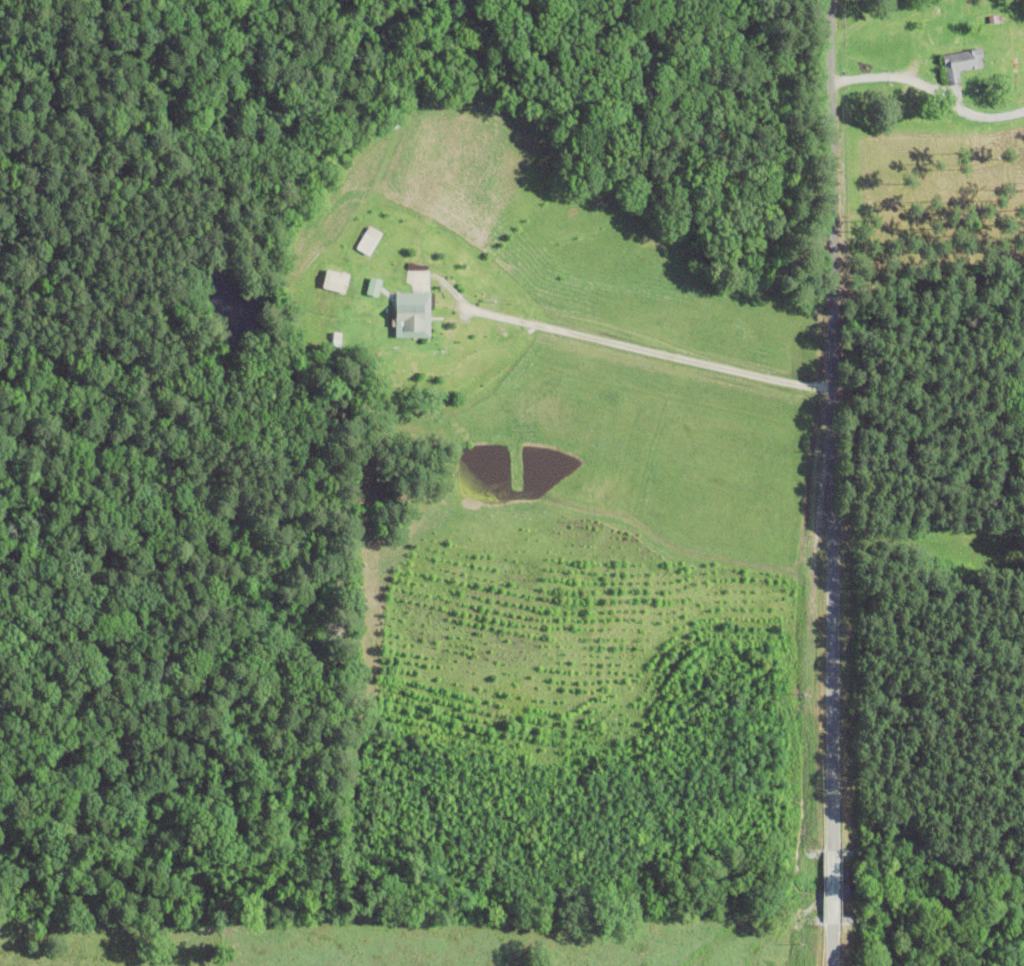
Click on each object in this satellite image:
building: (962, 63)
building: (365, 243)
building: (333, 281)
building: (371, 286)
building: (406, 311)
road: (648, 350)
road: (835, 482)

